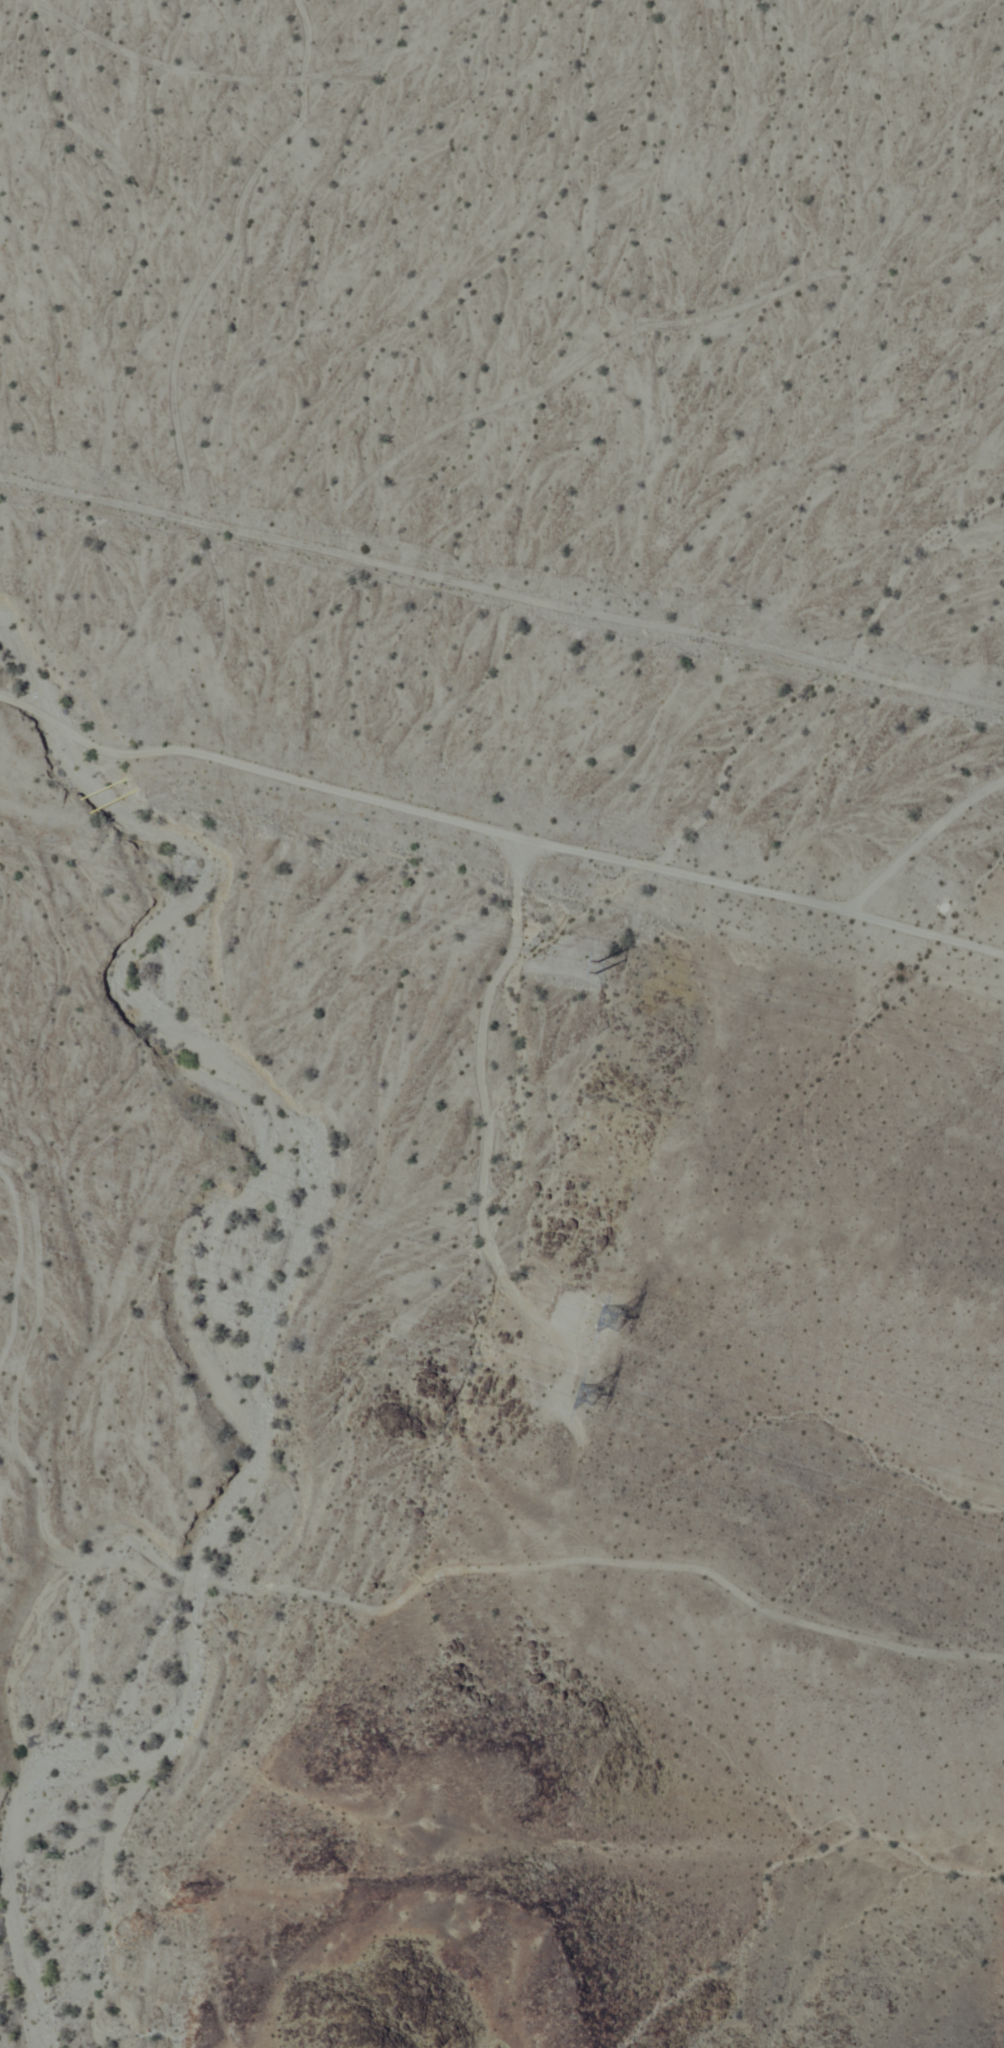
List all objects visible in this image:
road: (501, 594)
road: (495, 832)
building: (580, 965)
power tower: (580, 971)
power tower: (607, 1316)
power tower: (582, 1388)

